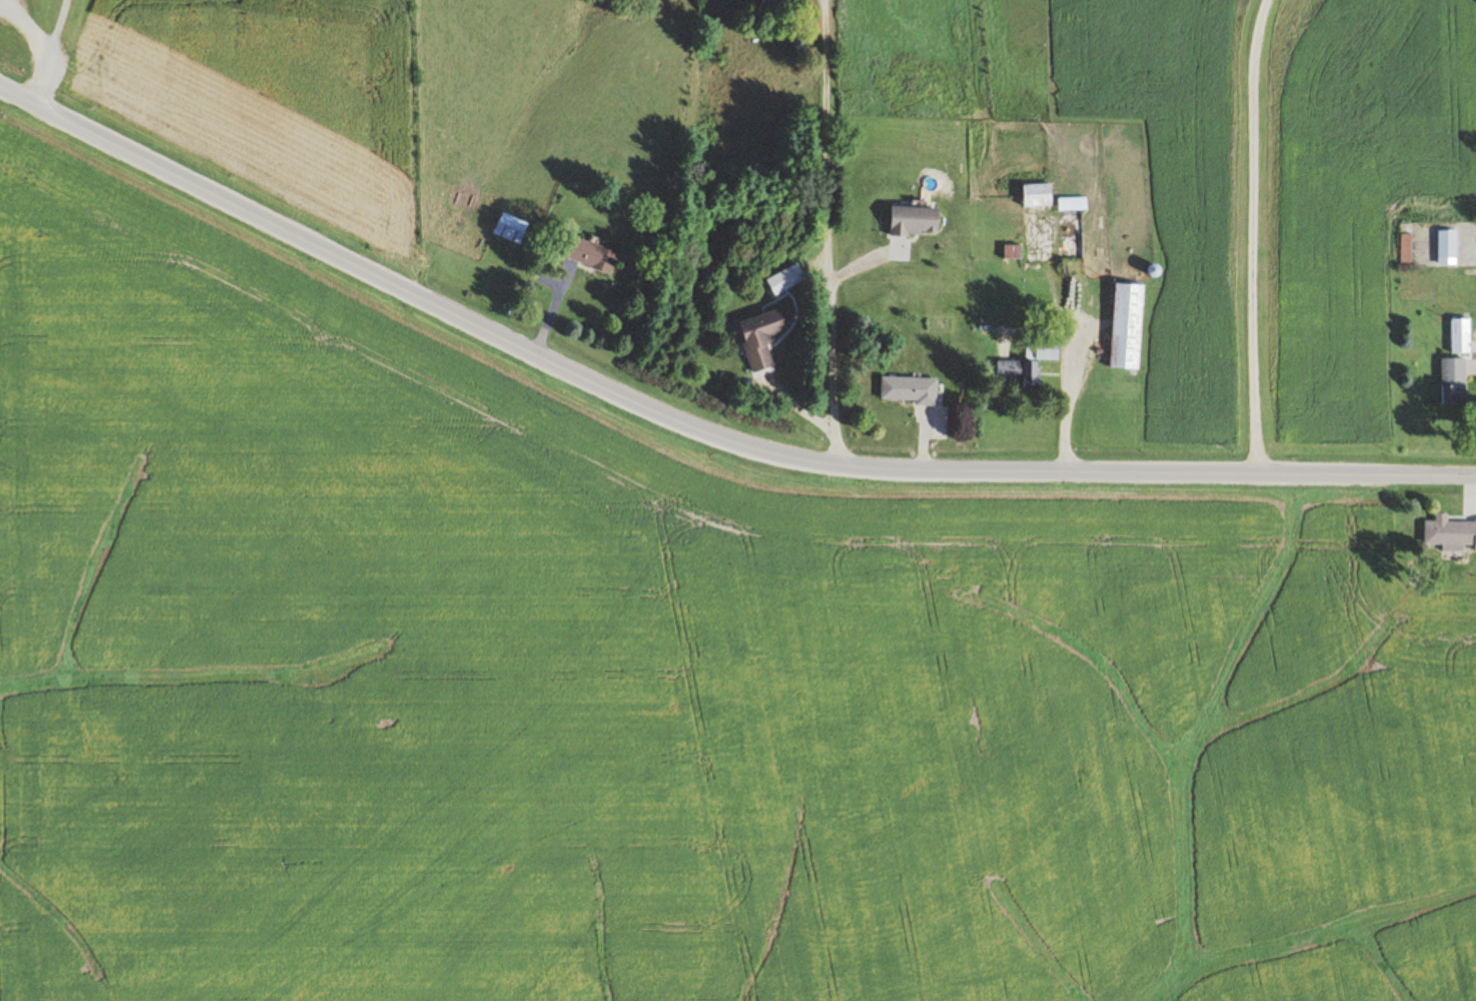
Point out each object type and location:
building: (771, 4)
road: (45, 49)
building: (1040, 195)
building: (917, 220)
building: (512, 228)
road: (830, 232)
building: (1071, 234)
road: (1250, 236)
building: (1448, 247)
building: (593, 254)
building: (1129, 326)
building: (1462, 335)
building: (762, 336)
building: (1030, 365)
building: (1455, 382)
building: (910, 389)
road: (1064, 404)
road: (700, 429)
building: (1451, 534)

